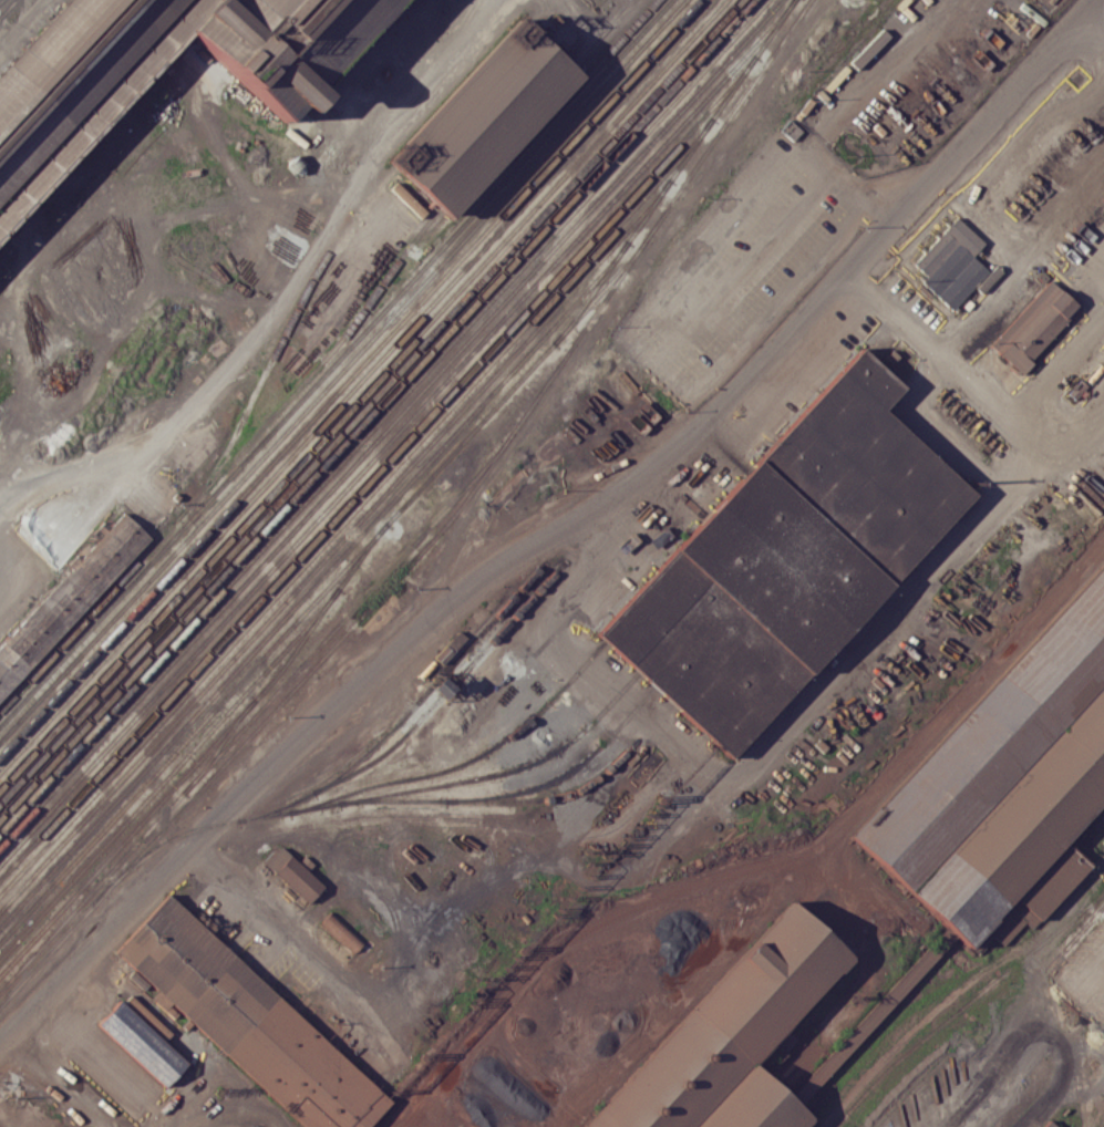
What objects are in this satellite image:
railway: (0, 0)
road: (1083, 4)
railway: (7, 8)
railway: (786, 9)
railway: (536, 12)
road: (17, 19)
railway: (600, 33)
building: (287, 41)
railway: (752, 60)
railway: (688, 71)
building: (75, 81)
railway: (460, 96)
building: (483, 117)
railway: (712, 120)
road: (830, 123)
railway: (505, 137)
railway: (671, 178)
building: (406, 199)
road: (861, 256)
building: (957, 261)
railway: (592, 292)
building: (1034, 327)
railway: (281, 339)
railway: (334, 361)
railway: (341, 370)
railway: (349, 379)
railway: (357, 385)
railway: (363, 392)
road: (1032, 399)
railway: (371, 401)
railway: (383, 415)
railway: (390, 424)
railway: (390, 441)
railway: (226, 464)
railway: (311, 479)
railway: (351, 496)
railway: (440, 531)
railway: (330, 536)
railway: (336, 545)
road: (8, 548)
building: (786, 559)
railway: (314, 583)
building: (66, 600)
railway: (324, 607)
building: (382, 616)
road: (564, 620)
railway: (432, 686)
railway: (258, 712)
railway: (421, 716)
railway: (193, 732)
road: (933, 732)
building: (990, 740)
railway: (219, 745)
railway: (169, 773)
railway: (565, 775)
railway: (479, 777)
railway: (371, 786)
railway: (495, 800)
building: (1020, 827)
building: (293, 873)
building: (341, 932)
road: (1041, 988)
building: (249, 1020)
building: (725, 1026)
building: (142, 1043)
building: (753, 1104)
building: (1048, 1124)

